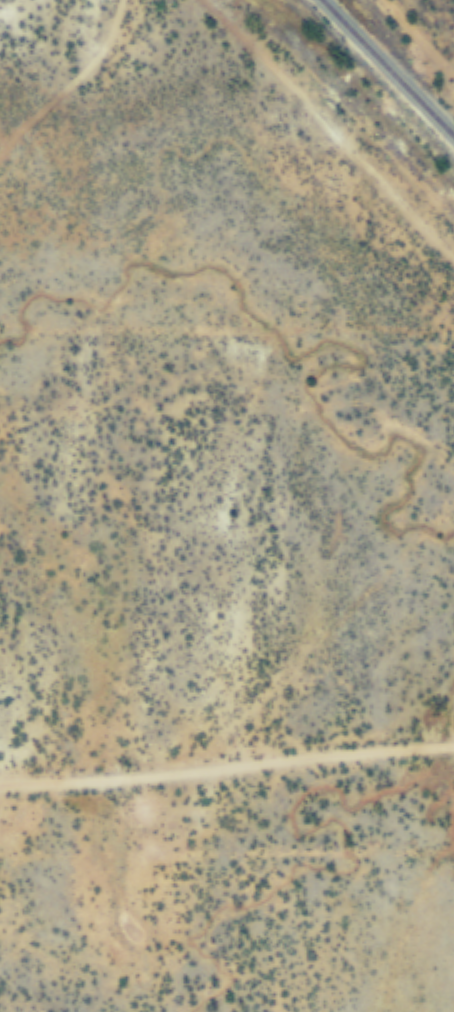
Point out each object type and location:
railway: (386, 70)
road: (226, 767)

